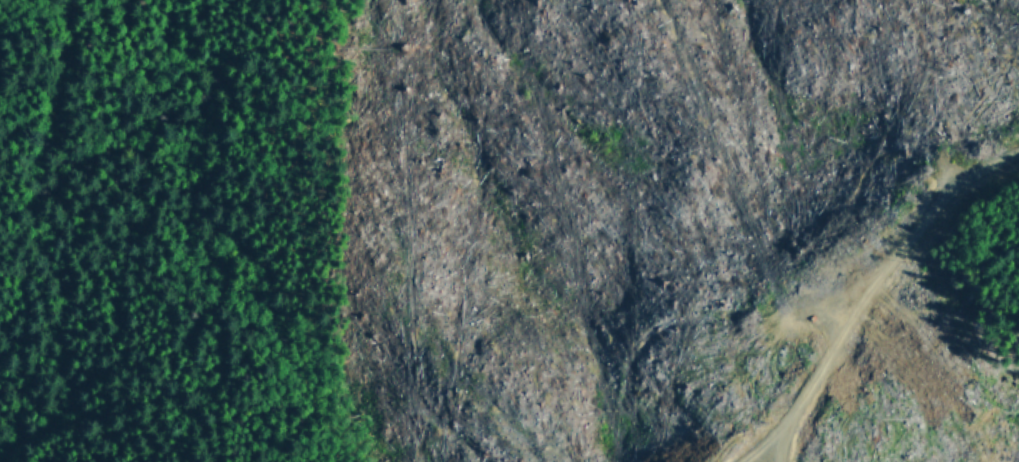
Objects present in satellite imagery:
road: (62, 123)
road: (725, 208)

